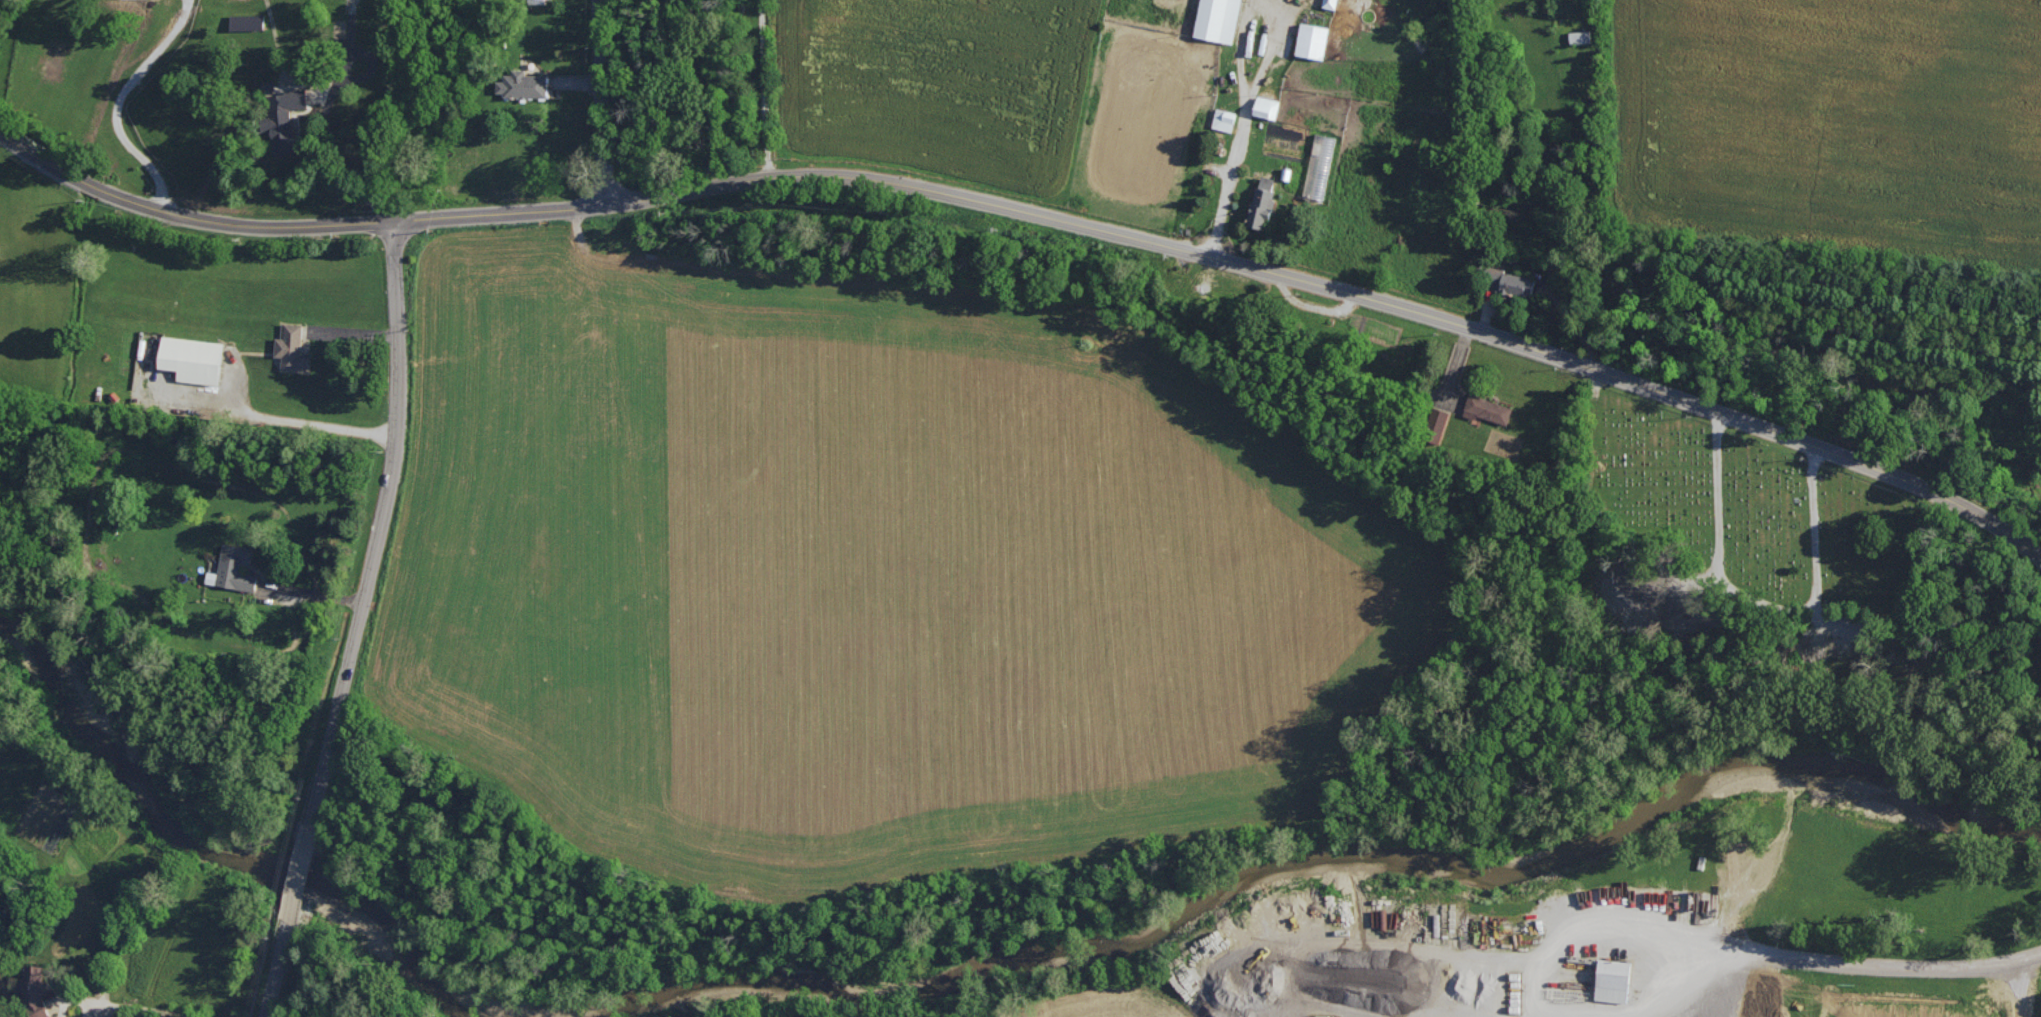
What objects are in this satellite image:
building: (535, 1)
building: (1331, 3)
building: (1219, 19)
building: (248, 21)
building: (1313, 40)
building: (523, 84)
road: (767, 88)
road: (601, 100)
road: (121, 103)
building: (1267, 106)
building: (284, 117)
building: (1225, 118)
road: (324, 123)
road: (1246, 134)
building: (1320, 165)
building: (1263, 201)
road: (1038, 213)
building: (1512, 281)
building: (292, 347)
building: (193, 358)
building: (1488, 408)
building: (1439, 418)
road: (288, 419)
park: (1752, 511)
road: (379, 523)
building: (234, 567)
road: (310, 592)
road: (302, 871)
road: (1830, 957)
road: (278, 968)
building: (1614, 979)
building: (35, 990)
road: (135, 1005)

